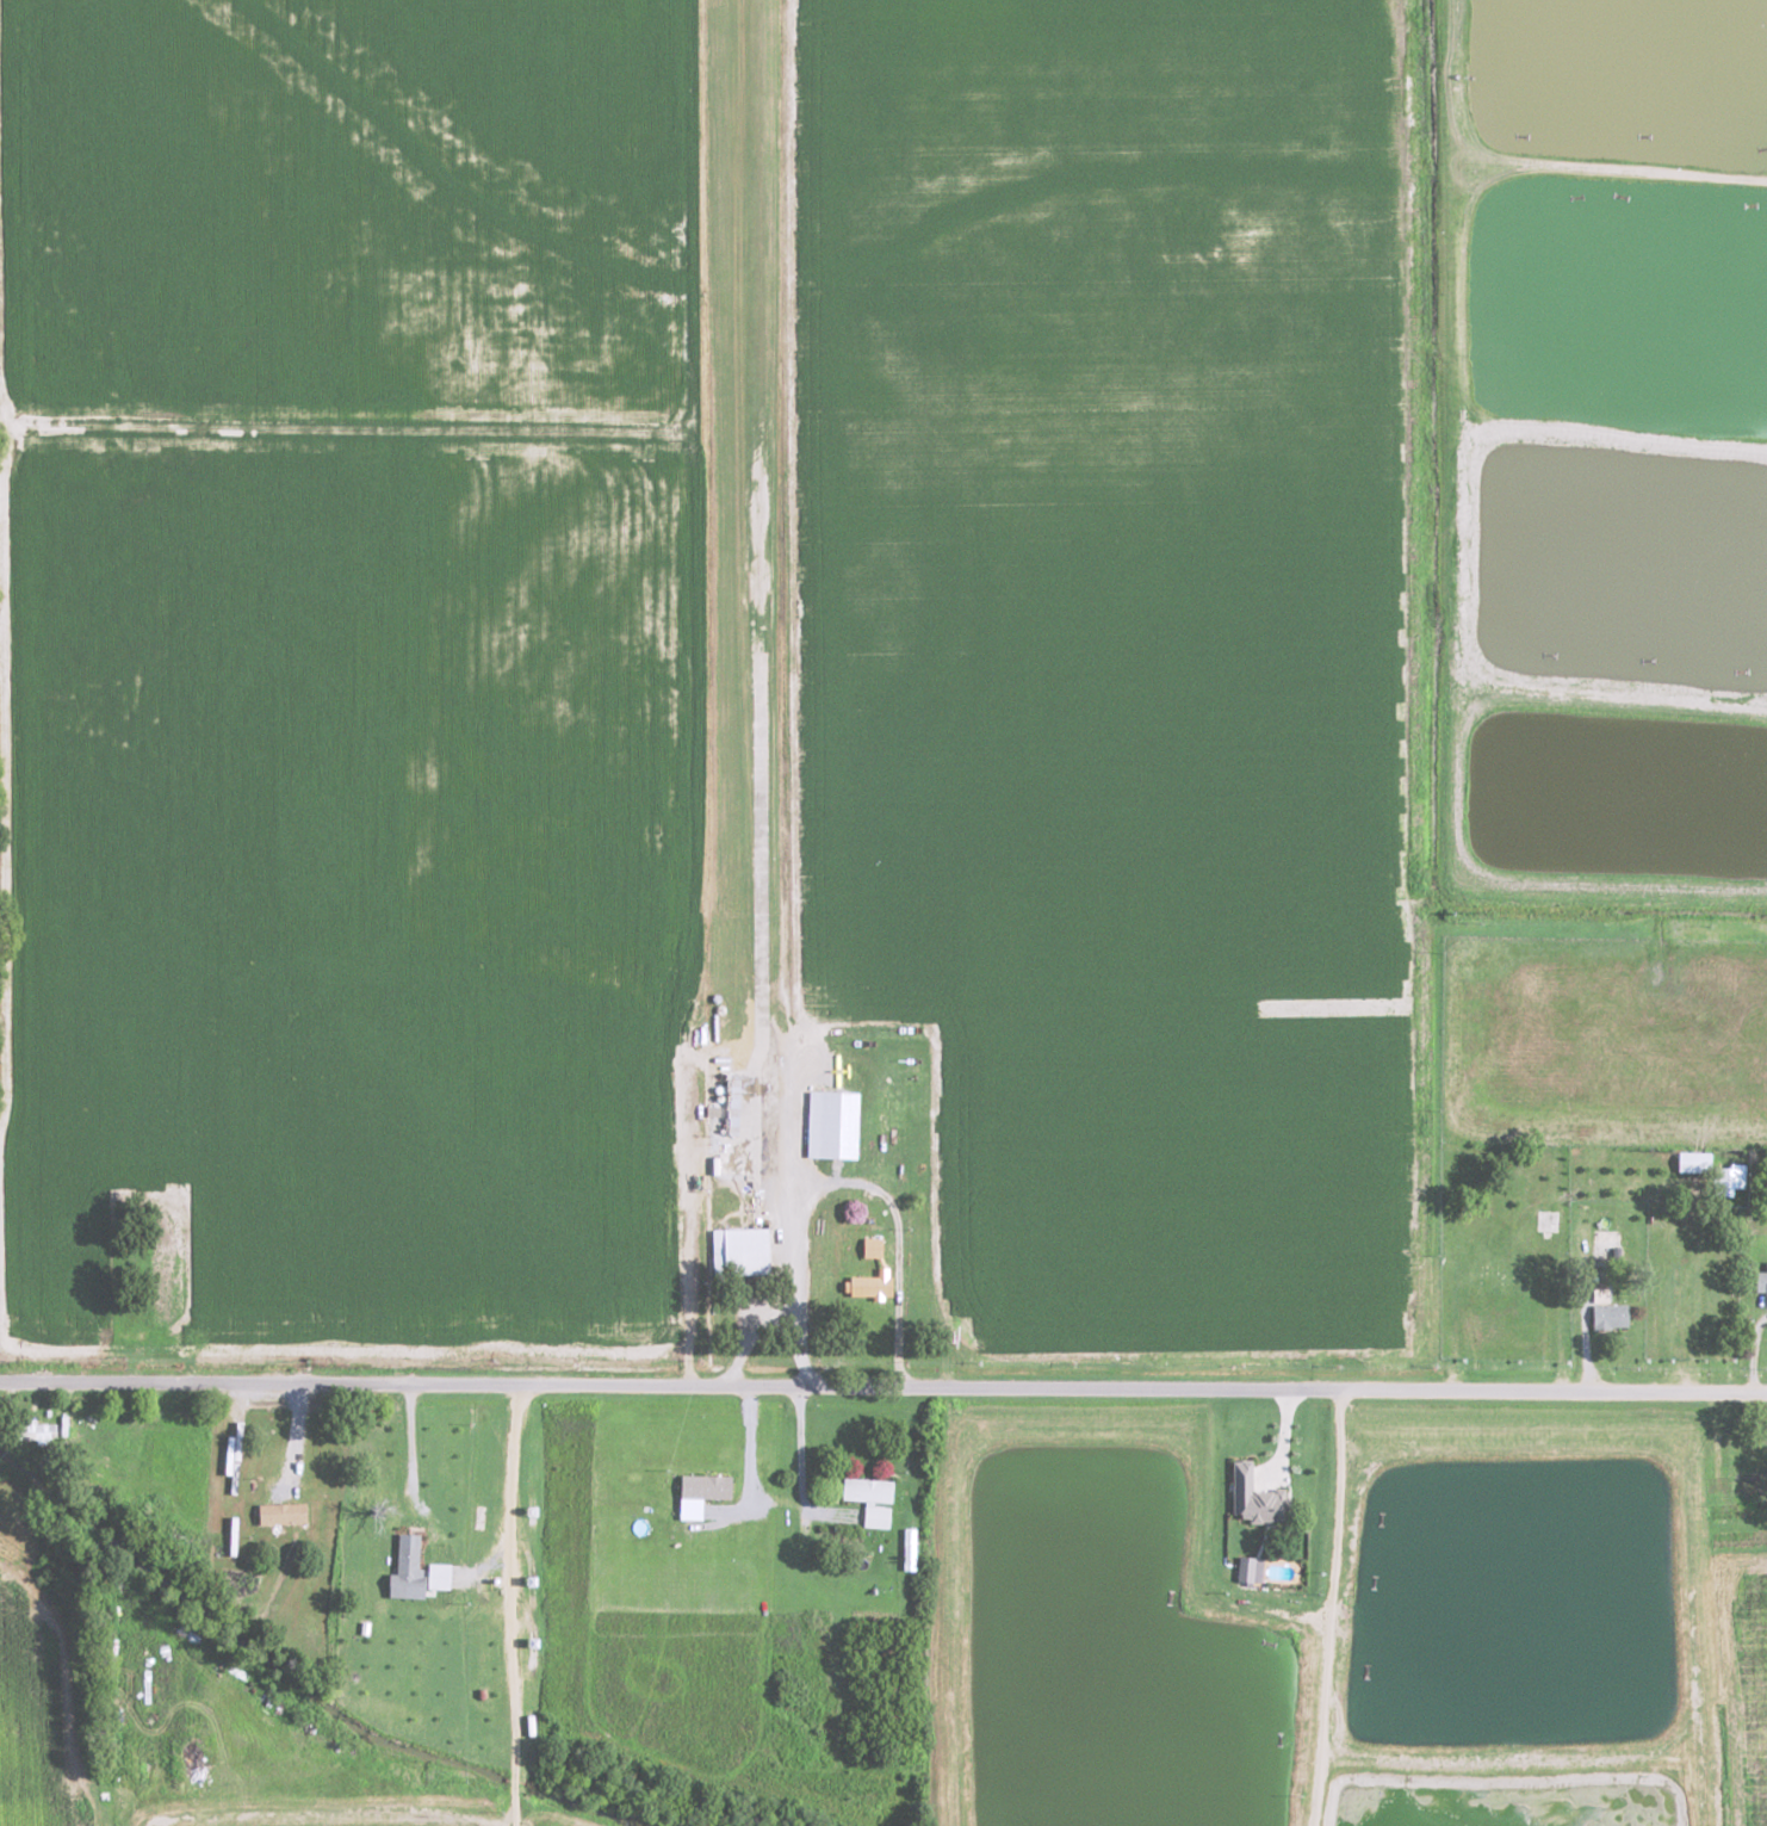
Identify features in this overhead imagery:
road: (754, 701)
building: (833, 1124)
building: (1694, 1162)
building: (1730, 1178)
building: (873, 1246)
building: (740, 1251)
building: (1761, 1281)
building: (870, 1285)
building: (1601, 1294)
building: (1611, 1316)
road: (882, 1387)
building: (39, 1430)
building: (701, 1492)
building: (1255, 1497)
building: (872, 1498)
building: (281, 1514)
building: (911, 1549)
road: (1331, 1552)
building: (407, 1570)
building: (1251, 1570)
building: (439, 1576)
road: (511, 1605)
road: (343, 1814)

